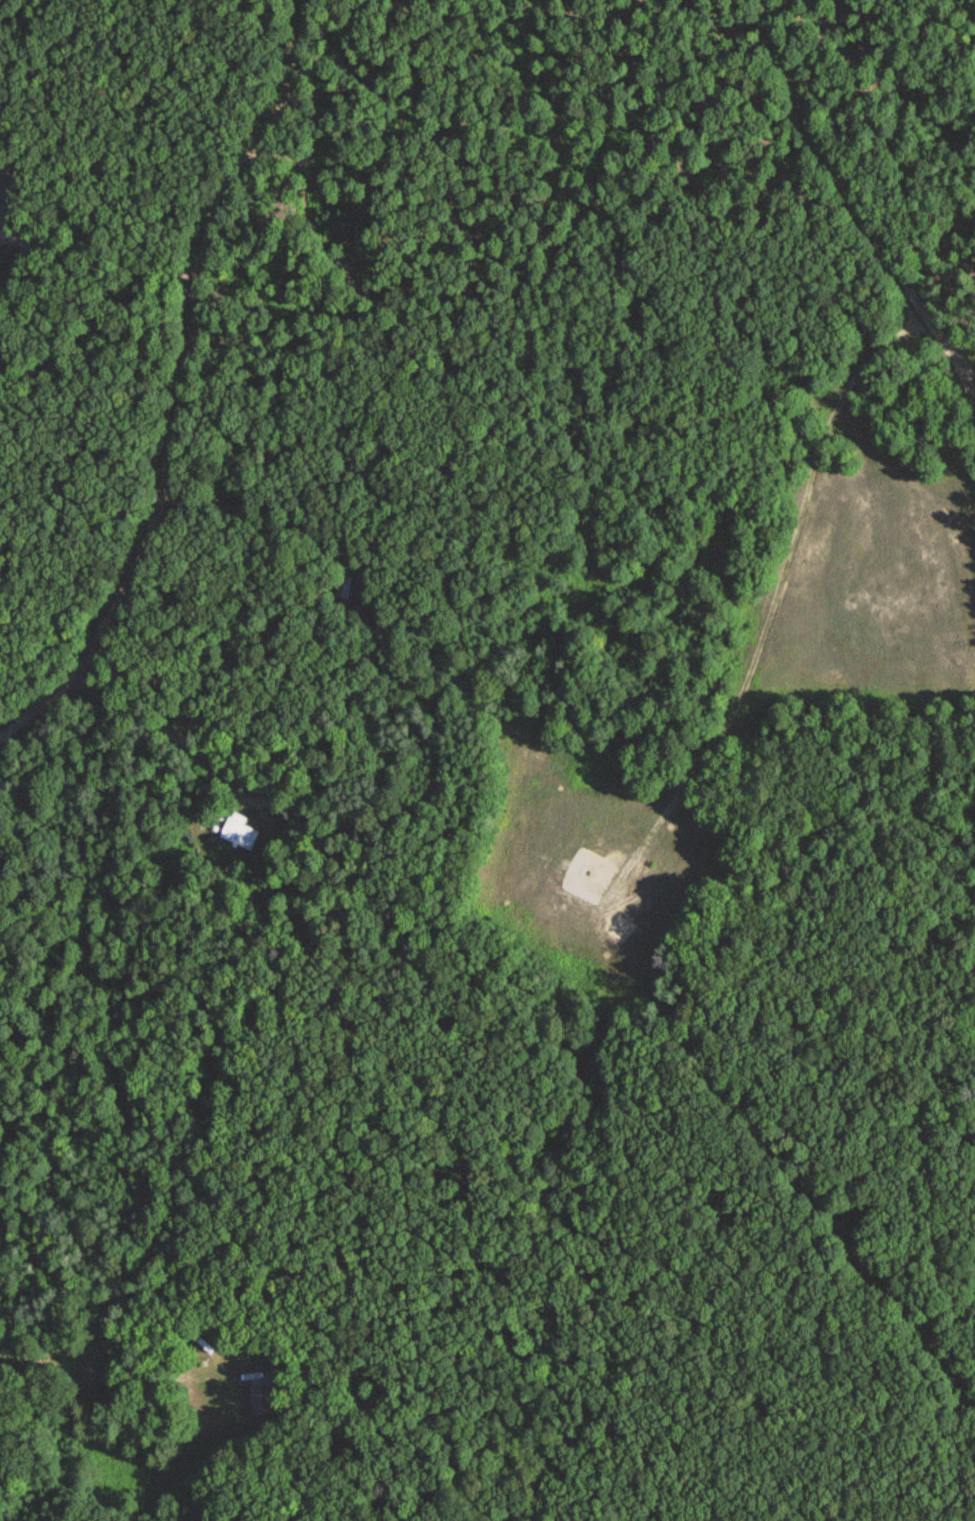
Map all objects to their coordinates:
road: (859, 204)
road: (97, 256)
road: (197, 388)
road: (770, 612)
building: (233, 717)
road: (235, 736)
building: (255, 785)
building: (276, 788)
road: (265, 815)
building: (239, 832)
petroleum well: (588, 873)
road: (117, 1310)
road: (194, 1325)
building: (226, 1334)
road: (19, 1354)
road: (95, 1357)
road: (180, 1376)
building: (263, 1400)

